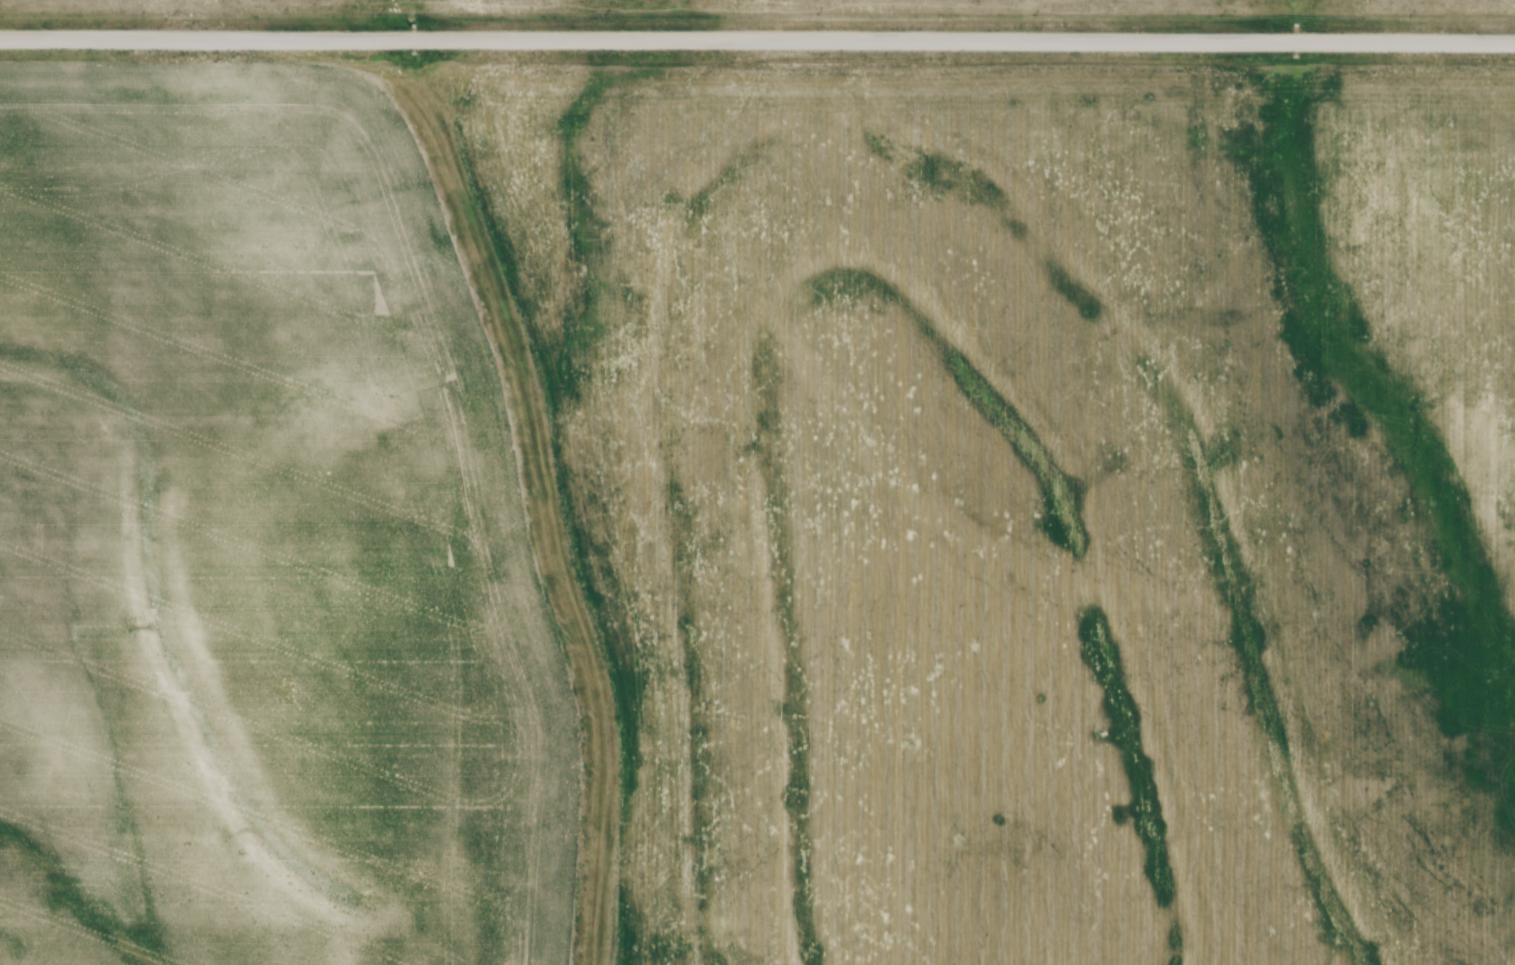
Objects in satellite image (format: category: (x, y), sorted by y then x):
road: (757, 46)

